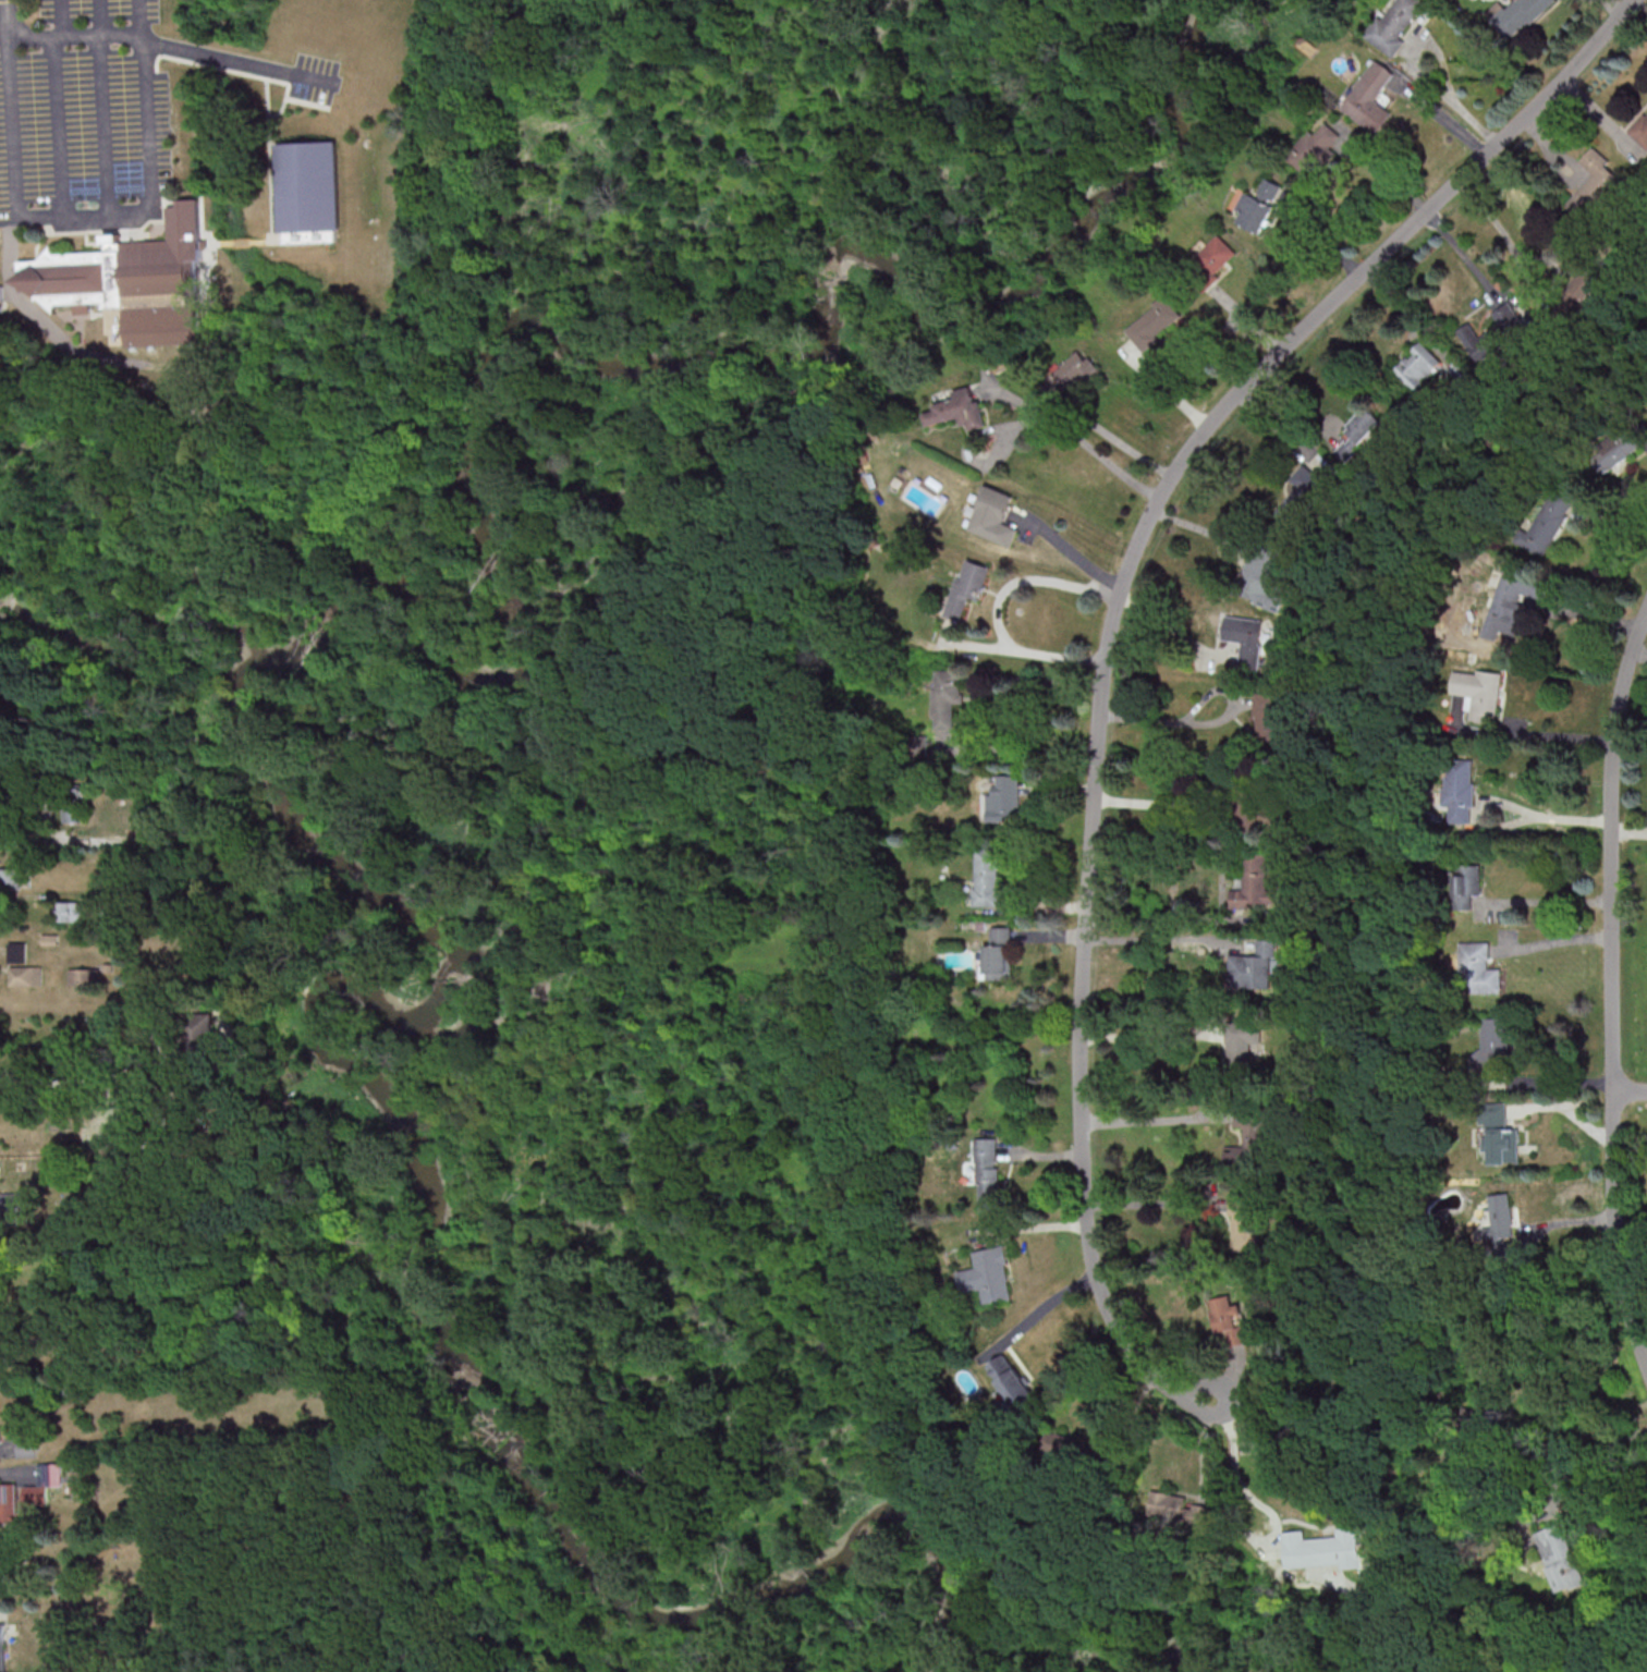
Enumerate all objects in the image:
building: (1521, 14)
road: (63, 17)
building: (1394, 24)
road: (169, 48)
road: (1416, 68)
parking lot: (315, 80)
building: (1369, 97)
road: (105, 107)
parking lot: (88, 109)
road: (1440, 118)
road: (58, 125)
building: (1640, 131)
building: (1313, 147)
building: (1593, 185)
building: (313, 193)
building: (1258, 206)
road: (82, 215)
road: (1462, 257)
building: (1210, 261)
road: (1520, 264)
building: (136, 289)
building: (1581, 290)
building: (0, 294)
building: (1155, 322)
building: (1481, 341)
river: (684, 364)
building: (1419, 367)
building: (1074, 373)
road: (1168, 390)
building: (959, 410)
building: (1359, 432)
road: (1120, 443)
road: (1079, 446)
building: (1618, 449)
building: (1303, 497)
building: (995, 516)
building: (1549, 521)
road: (1197, 528)
road: (1073, 554)
building: (1262, 576)
building: (967, 587)
building: (1512, 601)
road: (995, 608)
road: (1167, 628)
road: (1117, 630)
building: (1249, 638)
river: (268, 647)
river: (155, 670)
building: (948, 686)
building: (1478, 691)
building: (1267, 718)
road: (1209, 722)
road: (1539, 734)
building: (1460, 790)
building: (1003, 798)
road: (1159, 804)
building: (1249, 804)
building: (75, 807)
road: (1558, 817)
road: (30, 840)
building: (987, 876)
building: (10, 878)
building: (1255, 883)
building: (1466, 884)
road: (1551, 900)
building: (71, 912)
road: (1154, 917)
road: (1154, 941)
road: (1558, 942)
building: (16, 952)
building: (999, 953)
building: (1255, 967)
building: (1479, 969)
building: (25, 975)
building: (84, 976)
road: (1614, 986)
river: (528, 997)
building: (204, 1034)
road: (1147, 1034)
building: (1243, 1044)
building: (1492, 1046)
road: (83, 1078)
road: (1555, 1081)
road: (1631, 1090)
building: (1496, 1113)
road: (1151, 1116)
building: (1503, 1145)
building: (1252, 1146)
building: (987, 1170)
road: (1150, 1203)
building: (11, 1204)
building: (1245, 1219)
building: (1500, 1220)
building: (984, 1273)
road: (1038, 1308)
building: (1232, 1319)
building: (1, 1343)
building: (1006, 1377)
building: (0, 1431)
building: (1064, 1447)
building: (26, 1448)
road: (1590, 1461)
building: (44, 1485)
building: (8, 1502)
building: (1182, 1511)
road: (1236, 1516)
building: (1321, 1546)
building: (1561, 1558)
river: (660, 1616)
building: (2, 1647)

